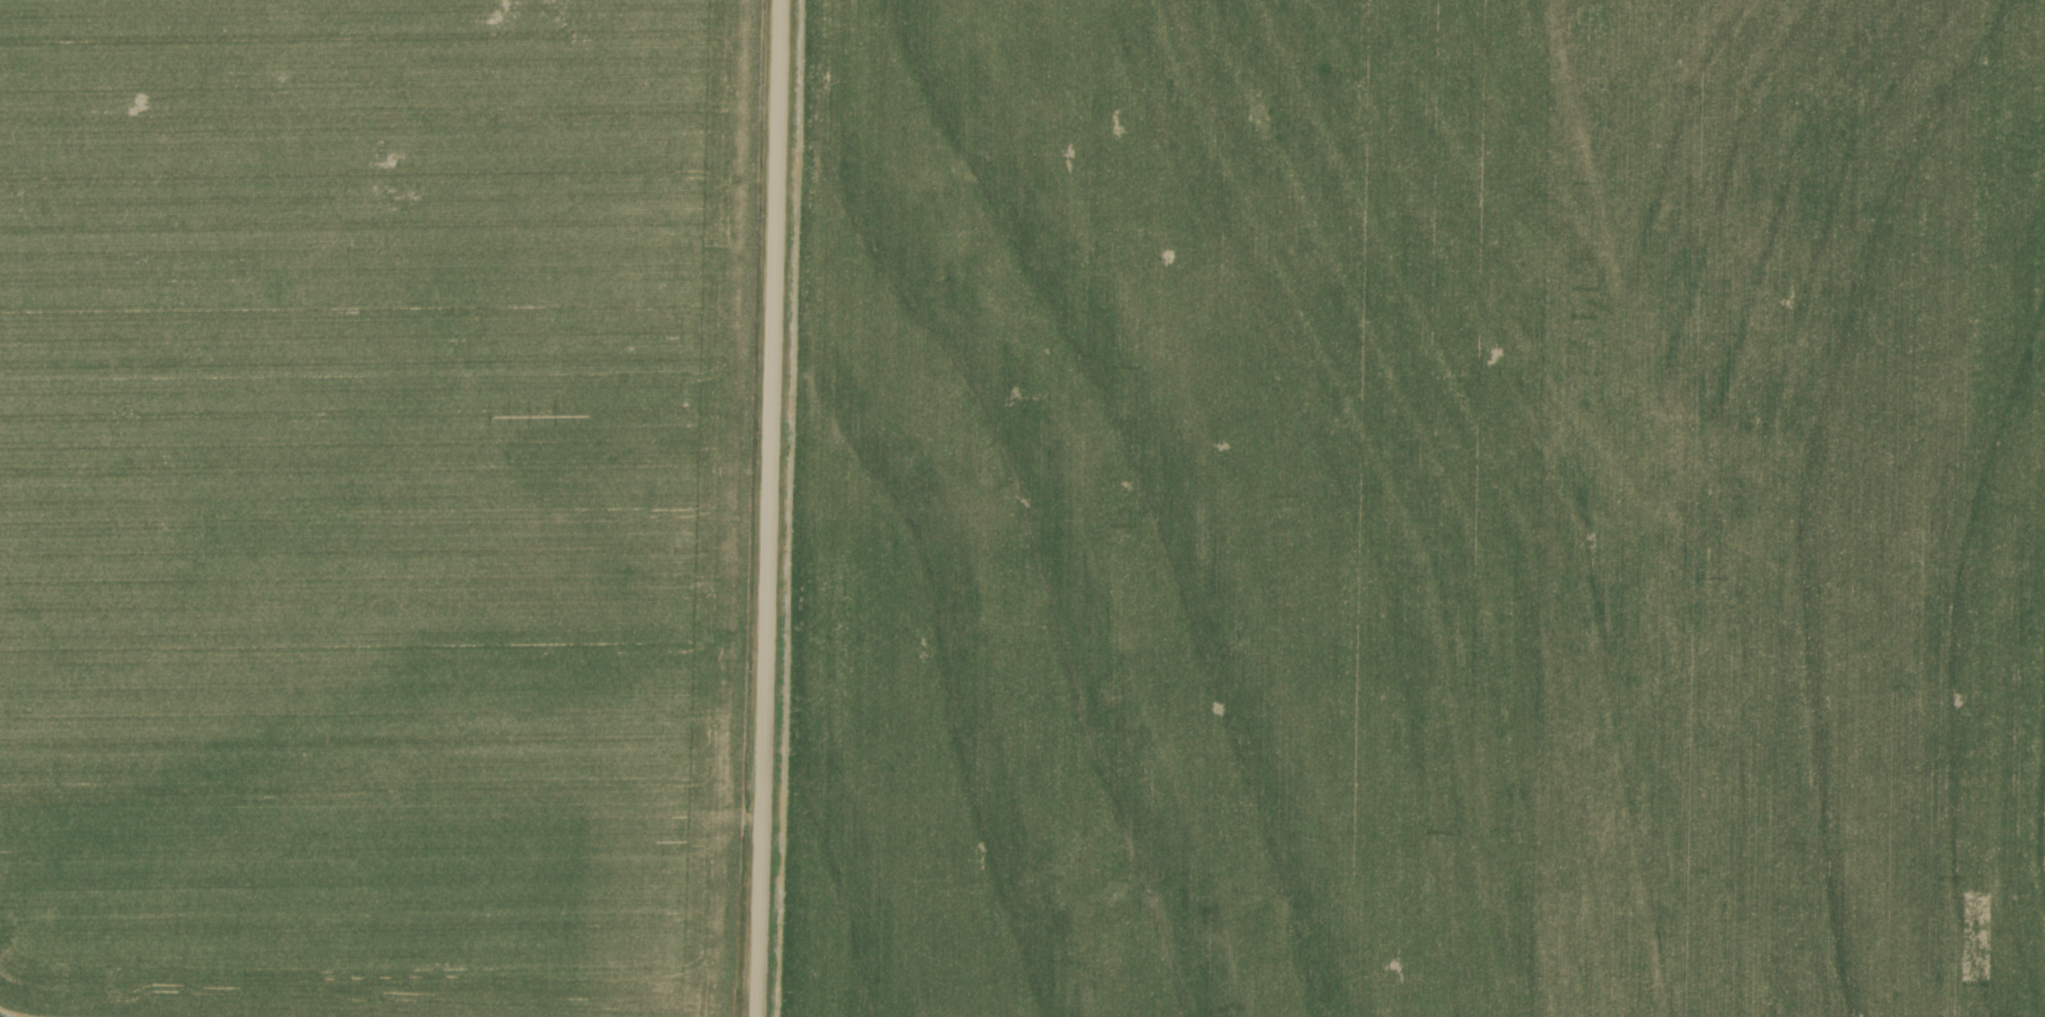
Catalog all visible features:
crop: (372, 505)
road: (769, 508)
crop: (1418, 509)

